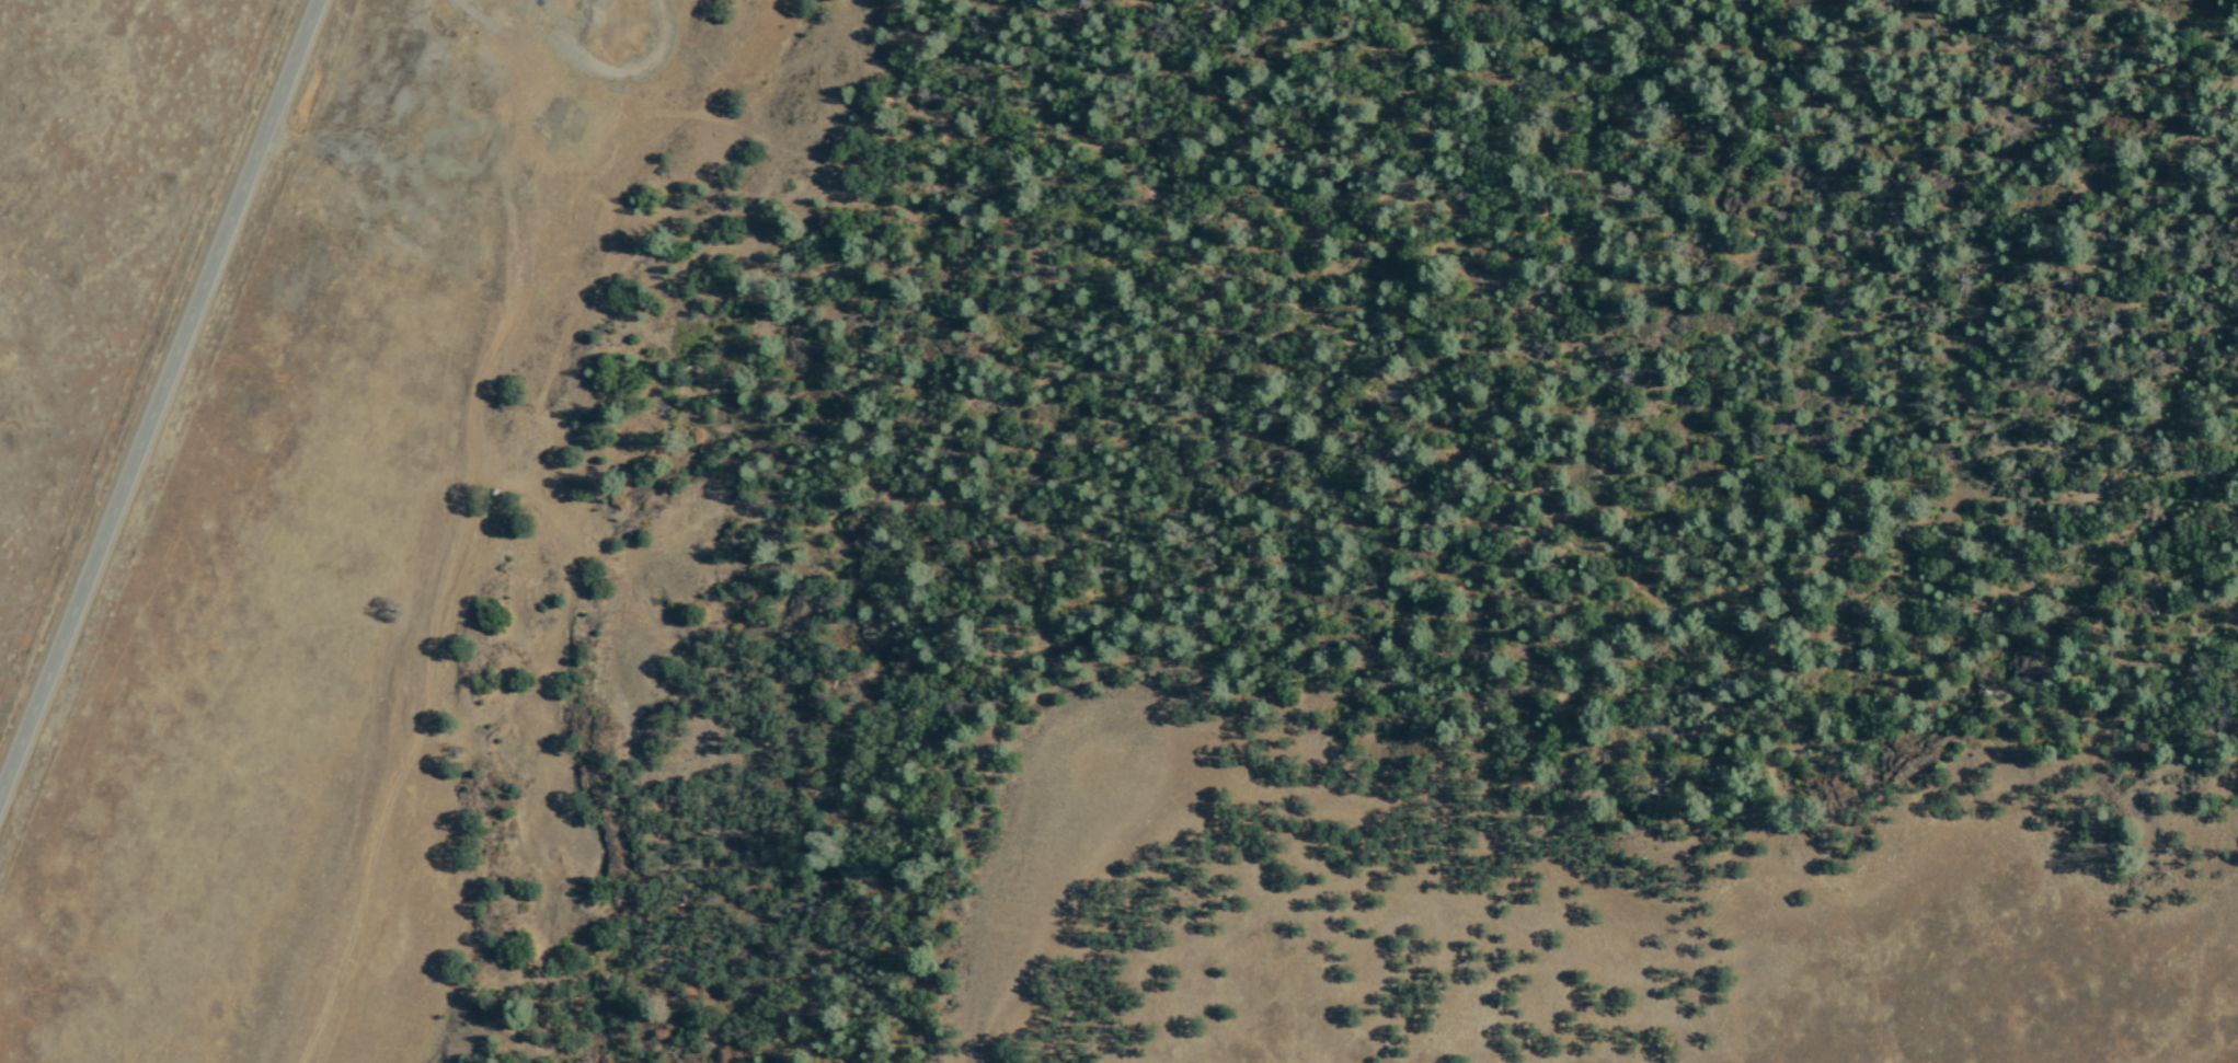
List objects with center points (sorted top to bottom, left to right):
road: (150, 380)

